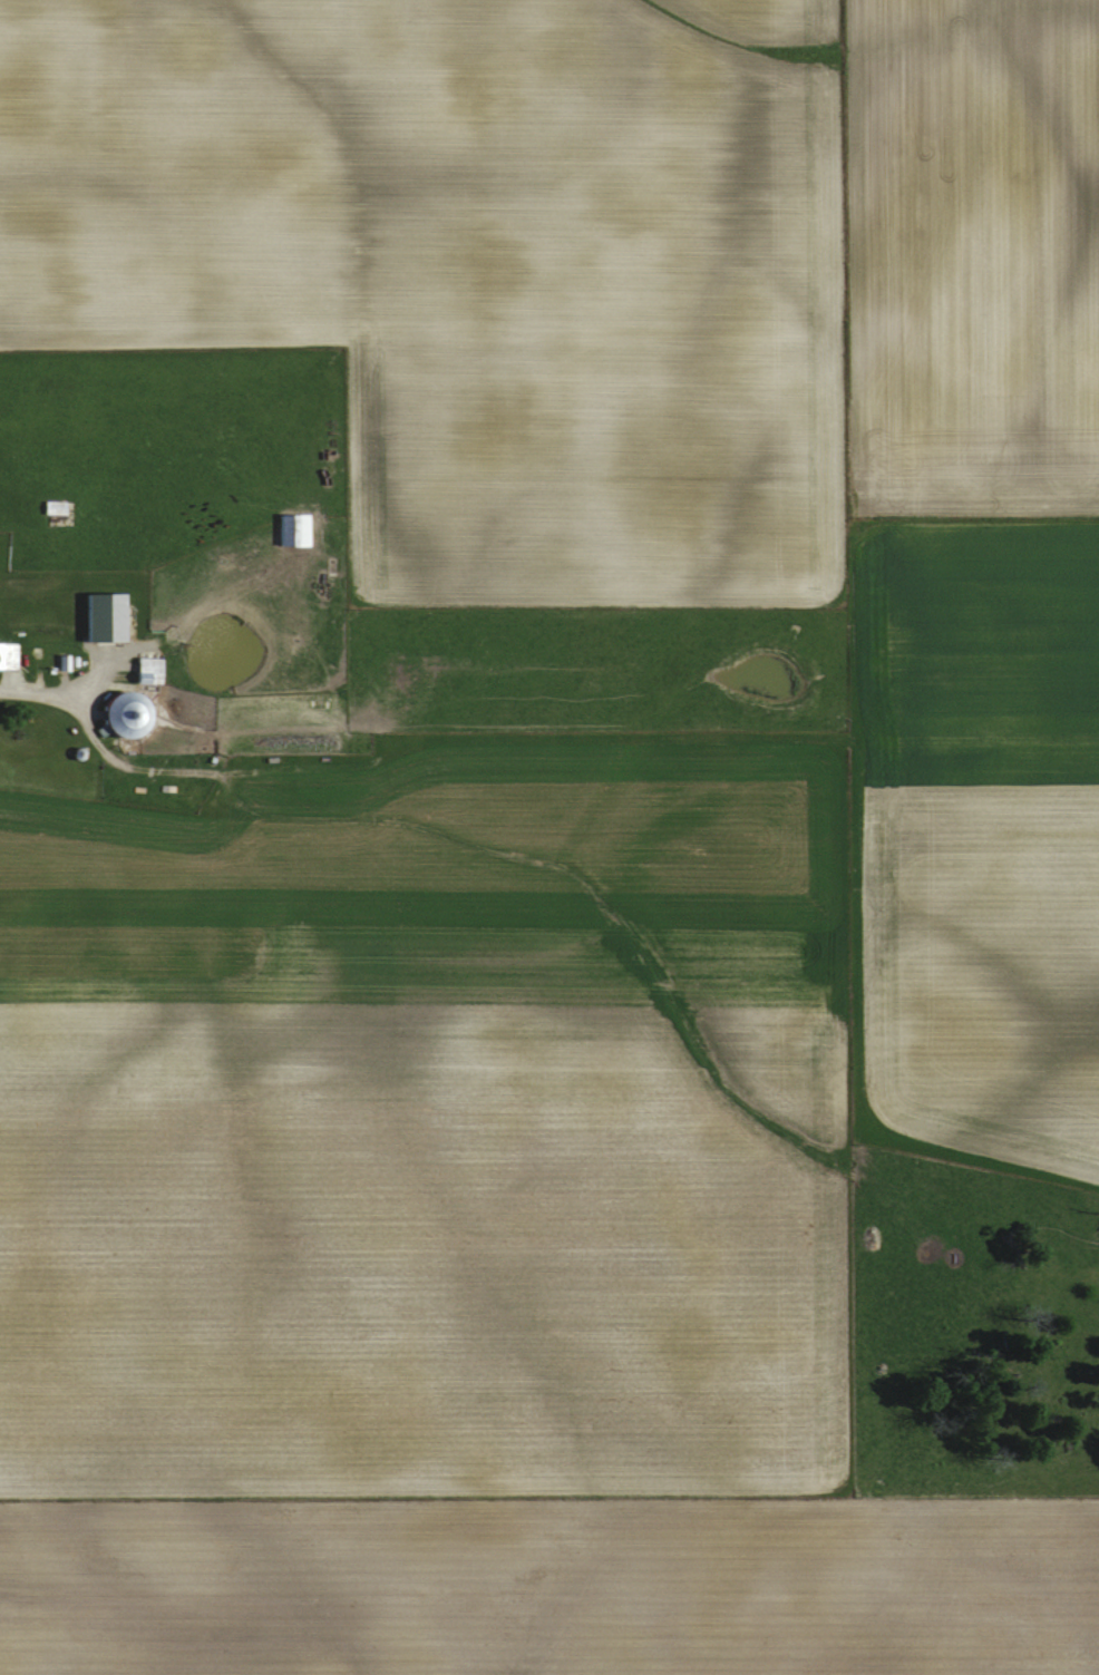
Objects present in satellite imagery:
building: (45, 392)
building: (50, 507)
building: (290, 529)
building: (7, 655)
building: (144, 670)
road: (45, 693)
building: (117, 714)

